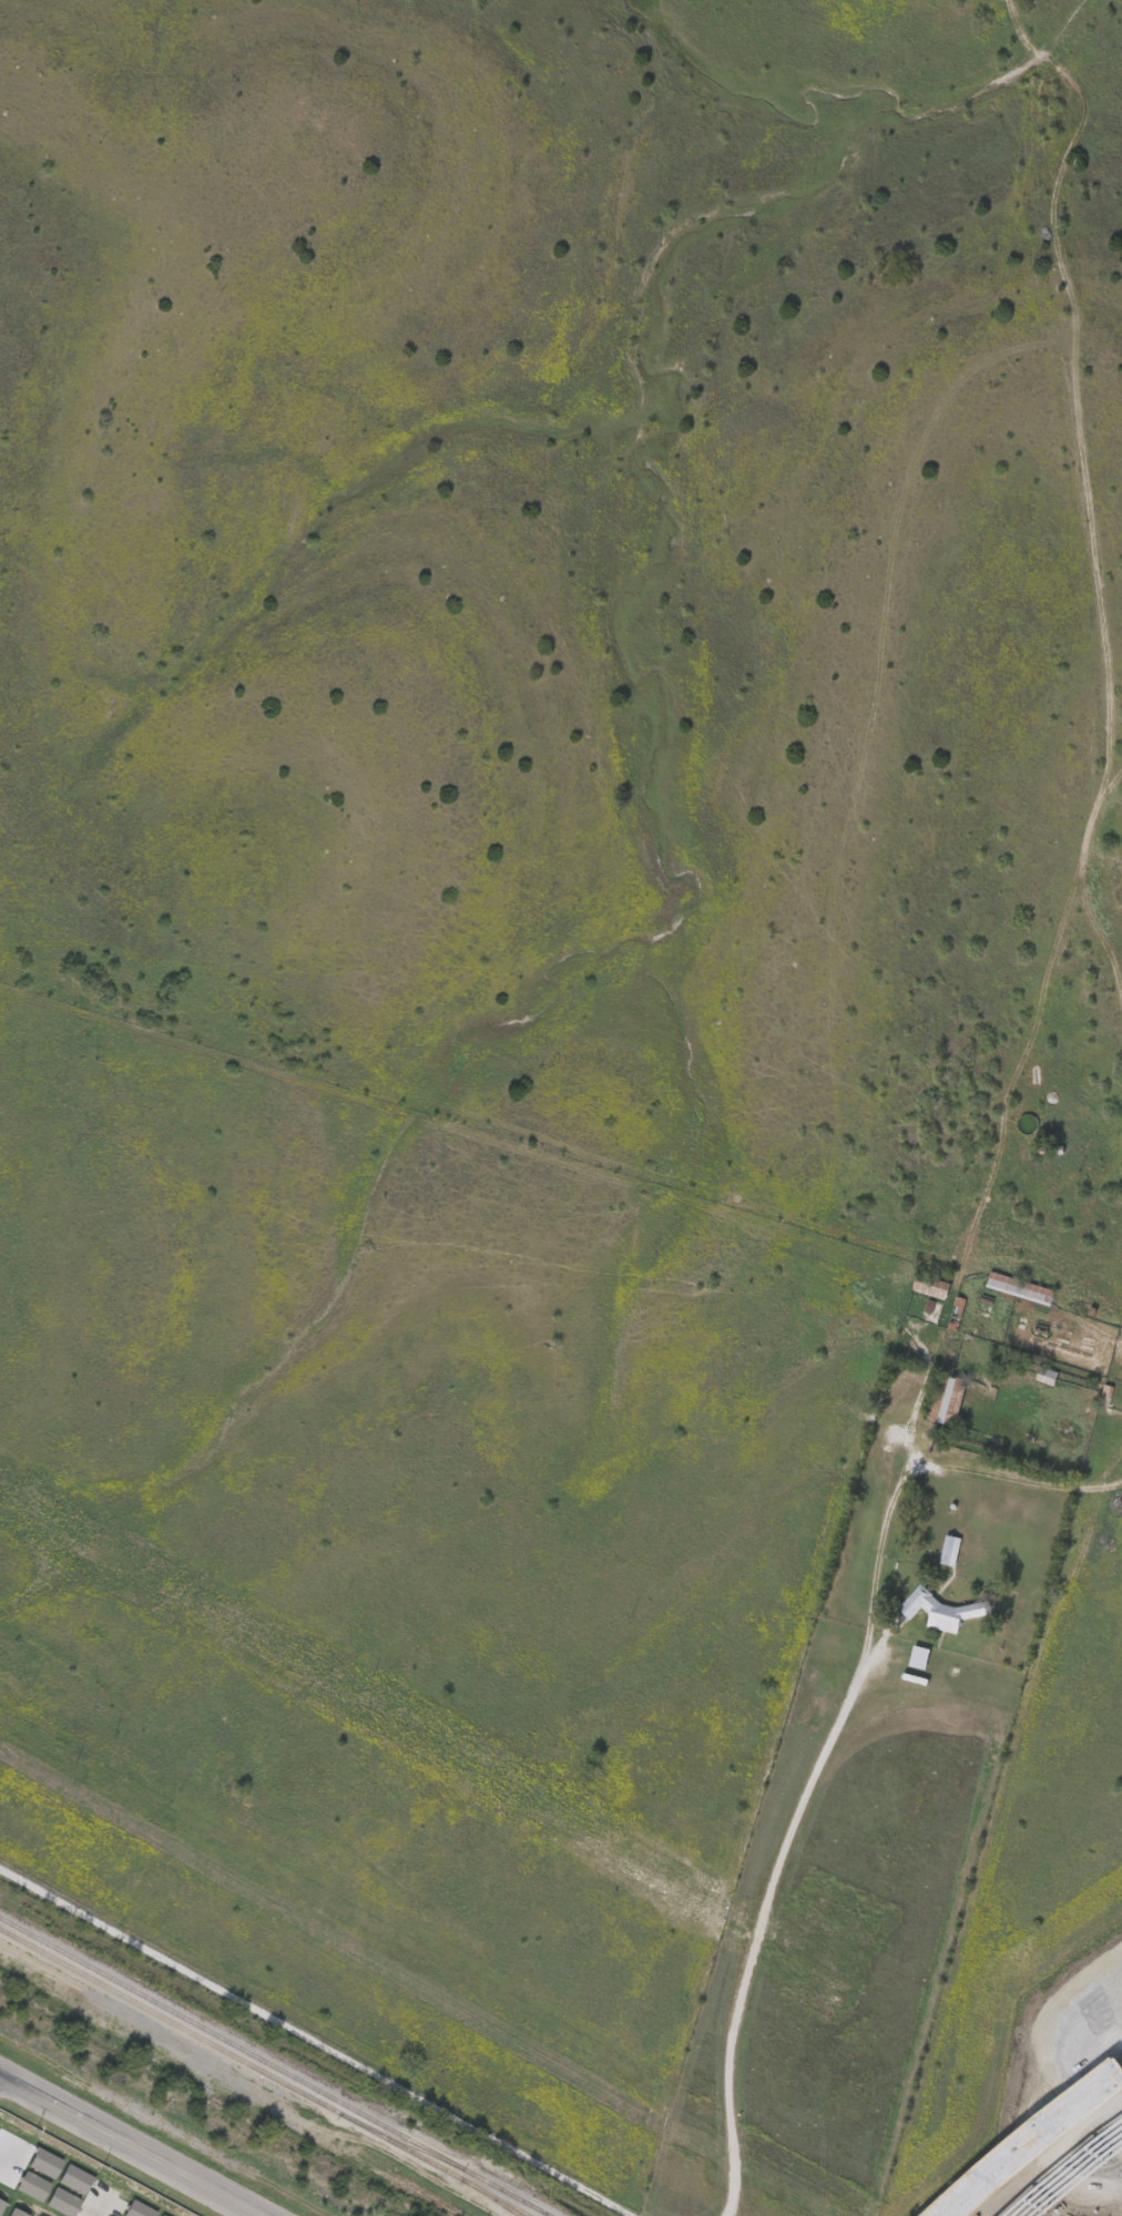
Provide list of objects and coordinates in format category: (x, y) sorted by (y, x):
building: (1028, 1122)
building: (931, 1284)
building: (1048, 1376)
building: (1105, 1393)
building: (945, 1398)
building: (950, 1549)
building: (938, 1605)
road: (757, 1927)
road: (318, 2041)
railway: (276, 2065)
railway: (262, 2069)
road: (131, 2145)
railway: (501, 2198)
road: (104, 2205)

